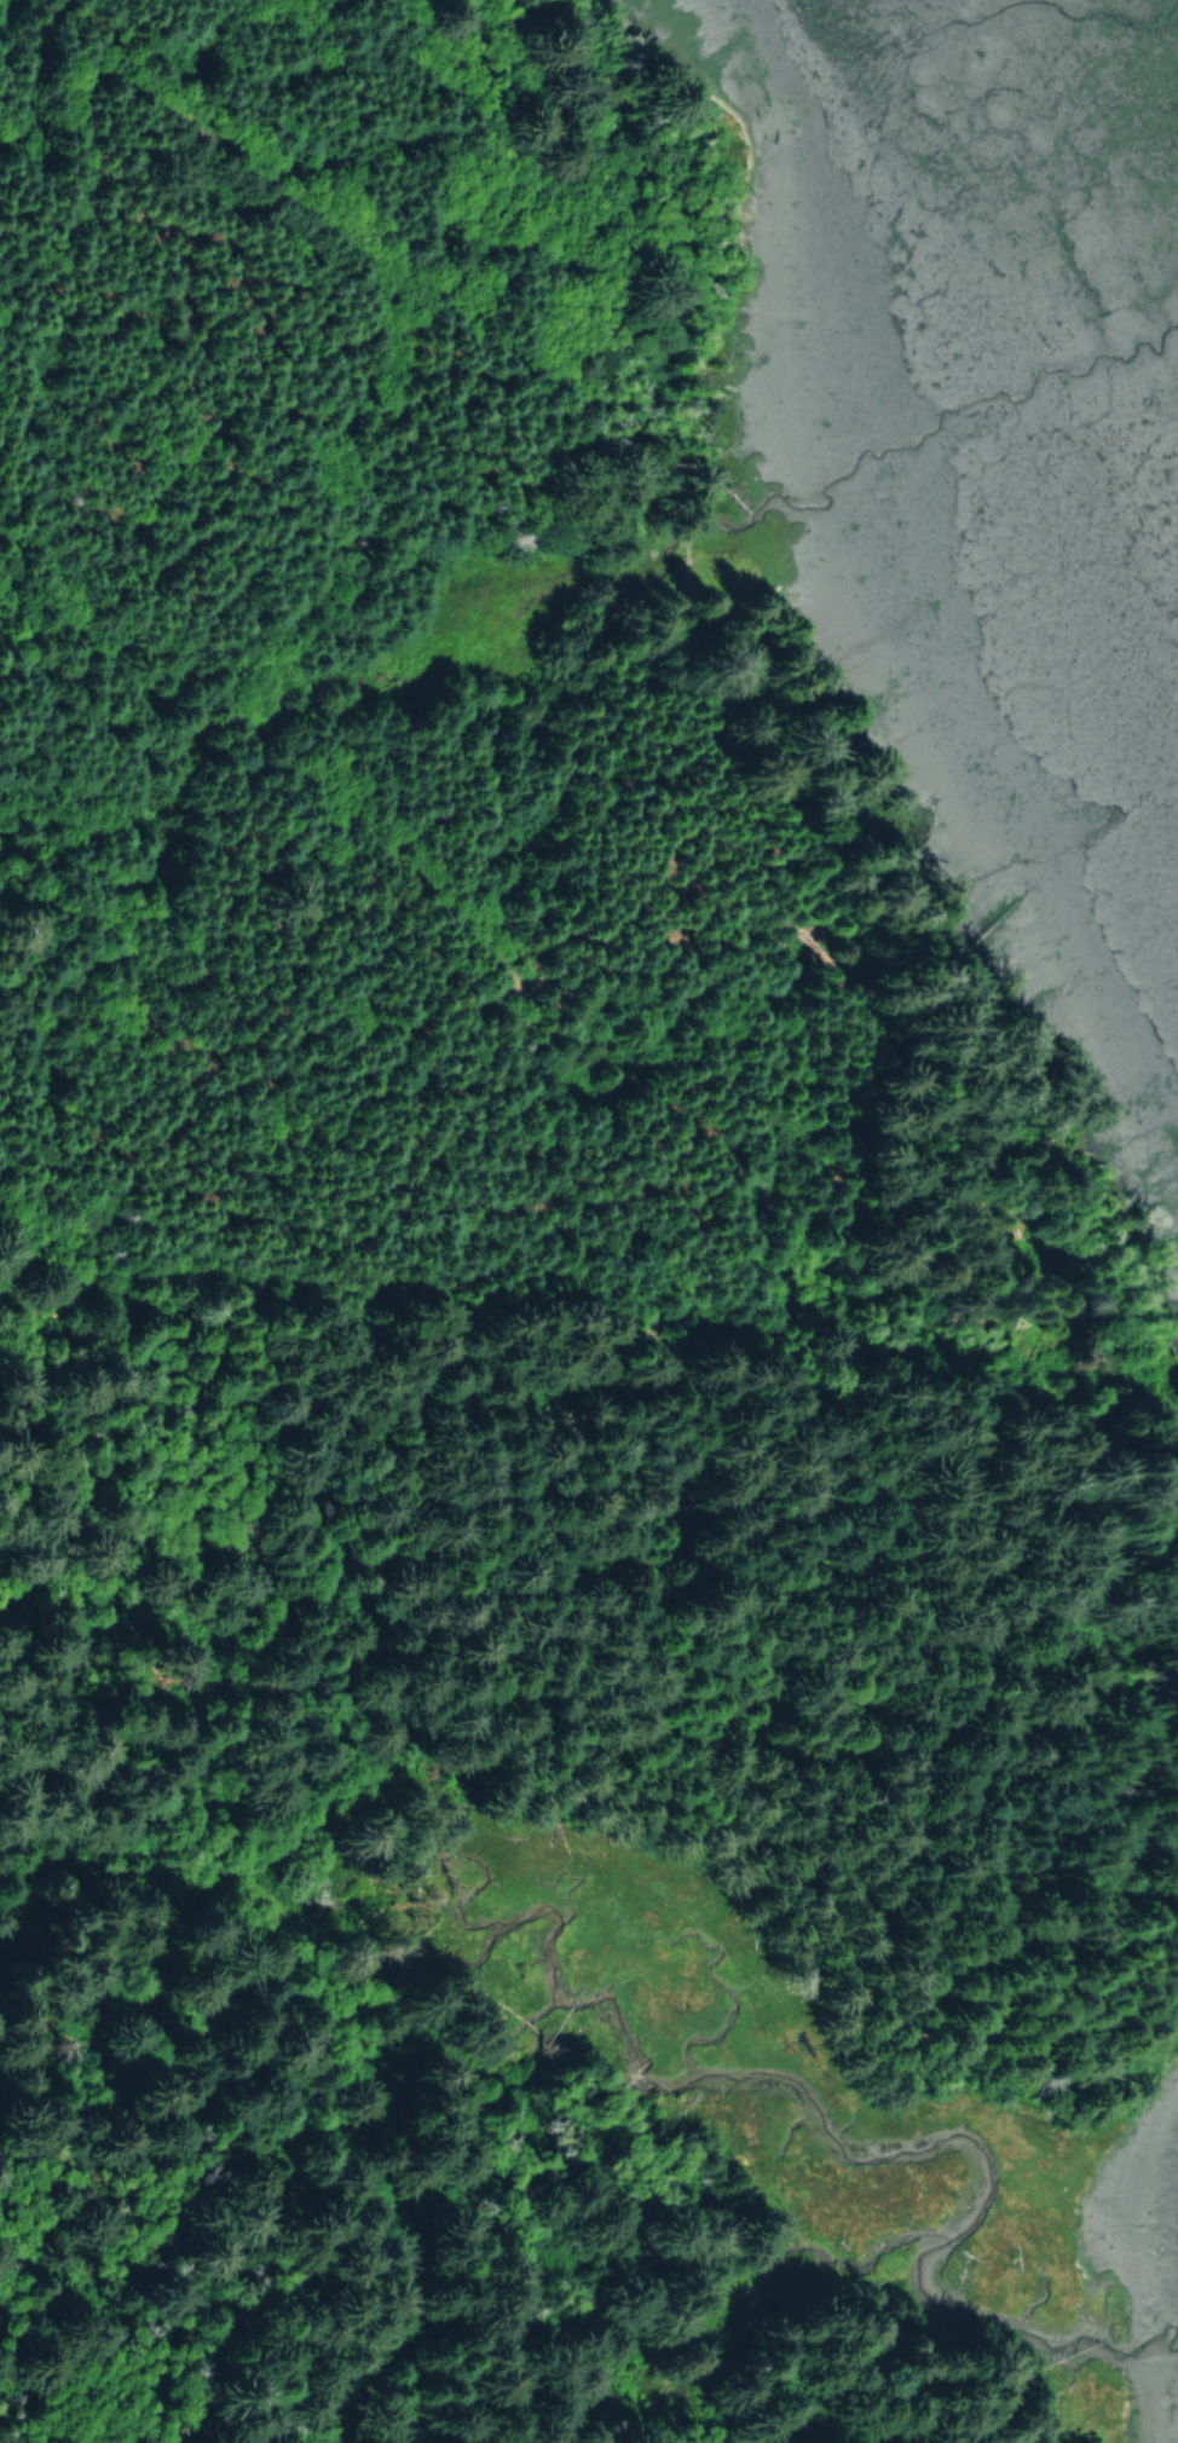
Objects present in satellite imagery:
road: (268, 703)

